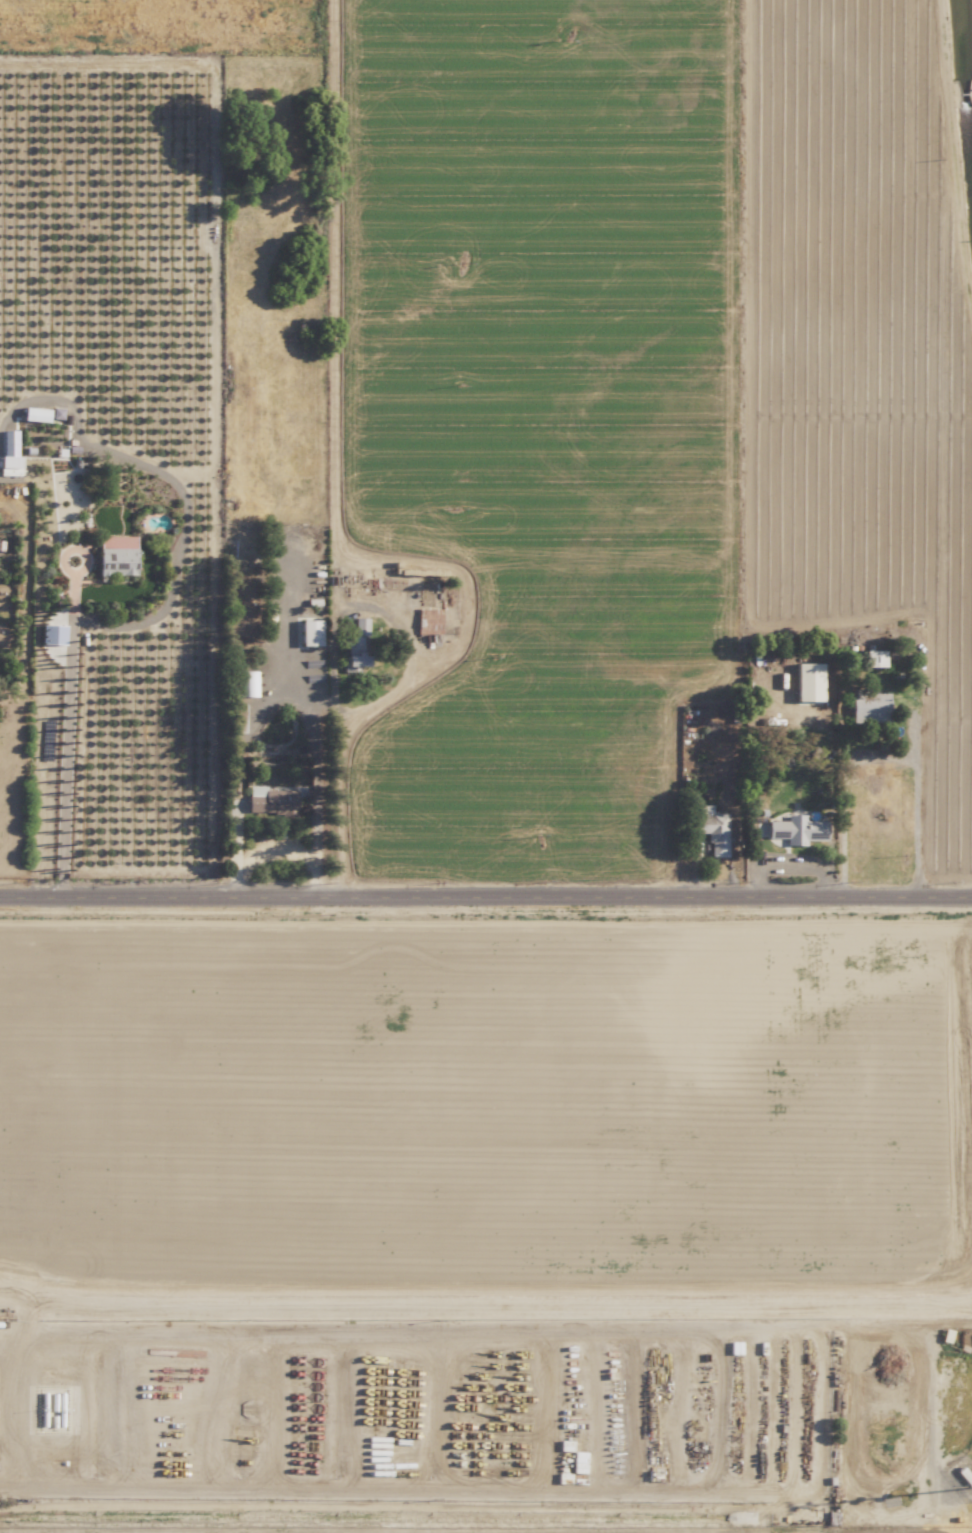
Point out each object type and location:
crop: (460, 424)
building: (10, 465)
building: (116, 555)
building: (311, 632)
building: (2, 635)
building: (357, 646)
building: (875, 658)
building: (809, 681)
building: (248, 683)
road: (284, 687)
building: (869, 708)
road: (66, 730)
road: (881, 759)
building: (270, 801)
building: (712, 829)
building: (797, 829)
road: (486, 900)
road: (18, 1410)

